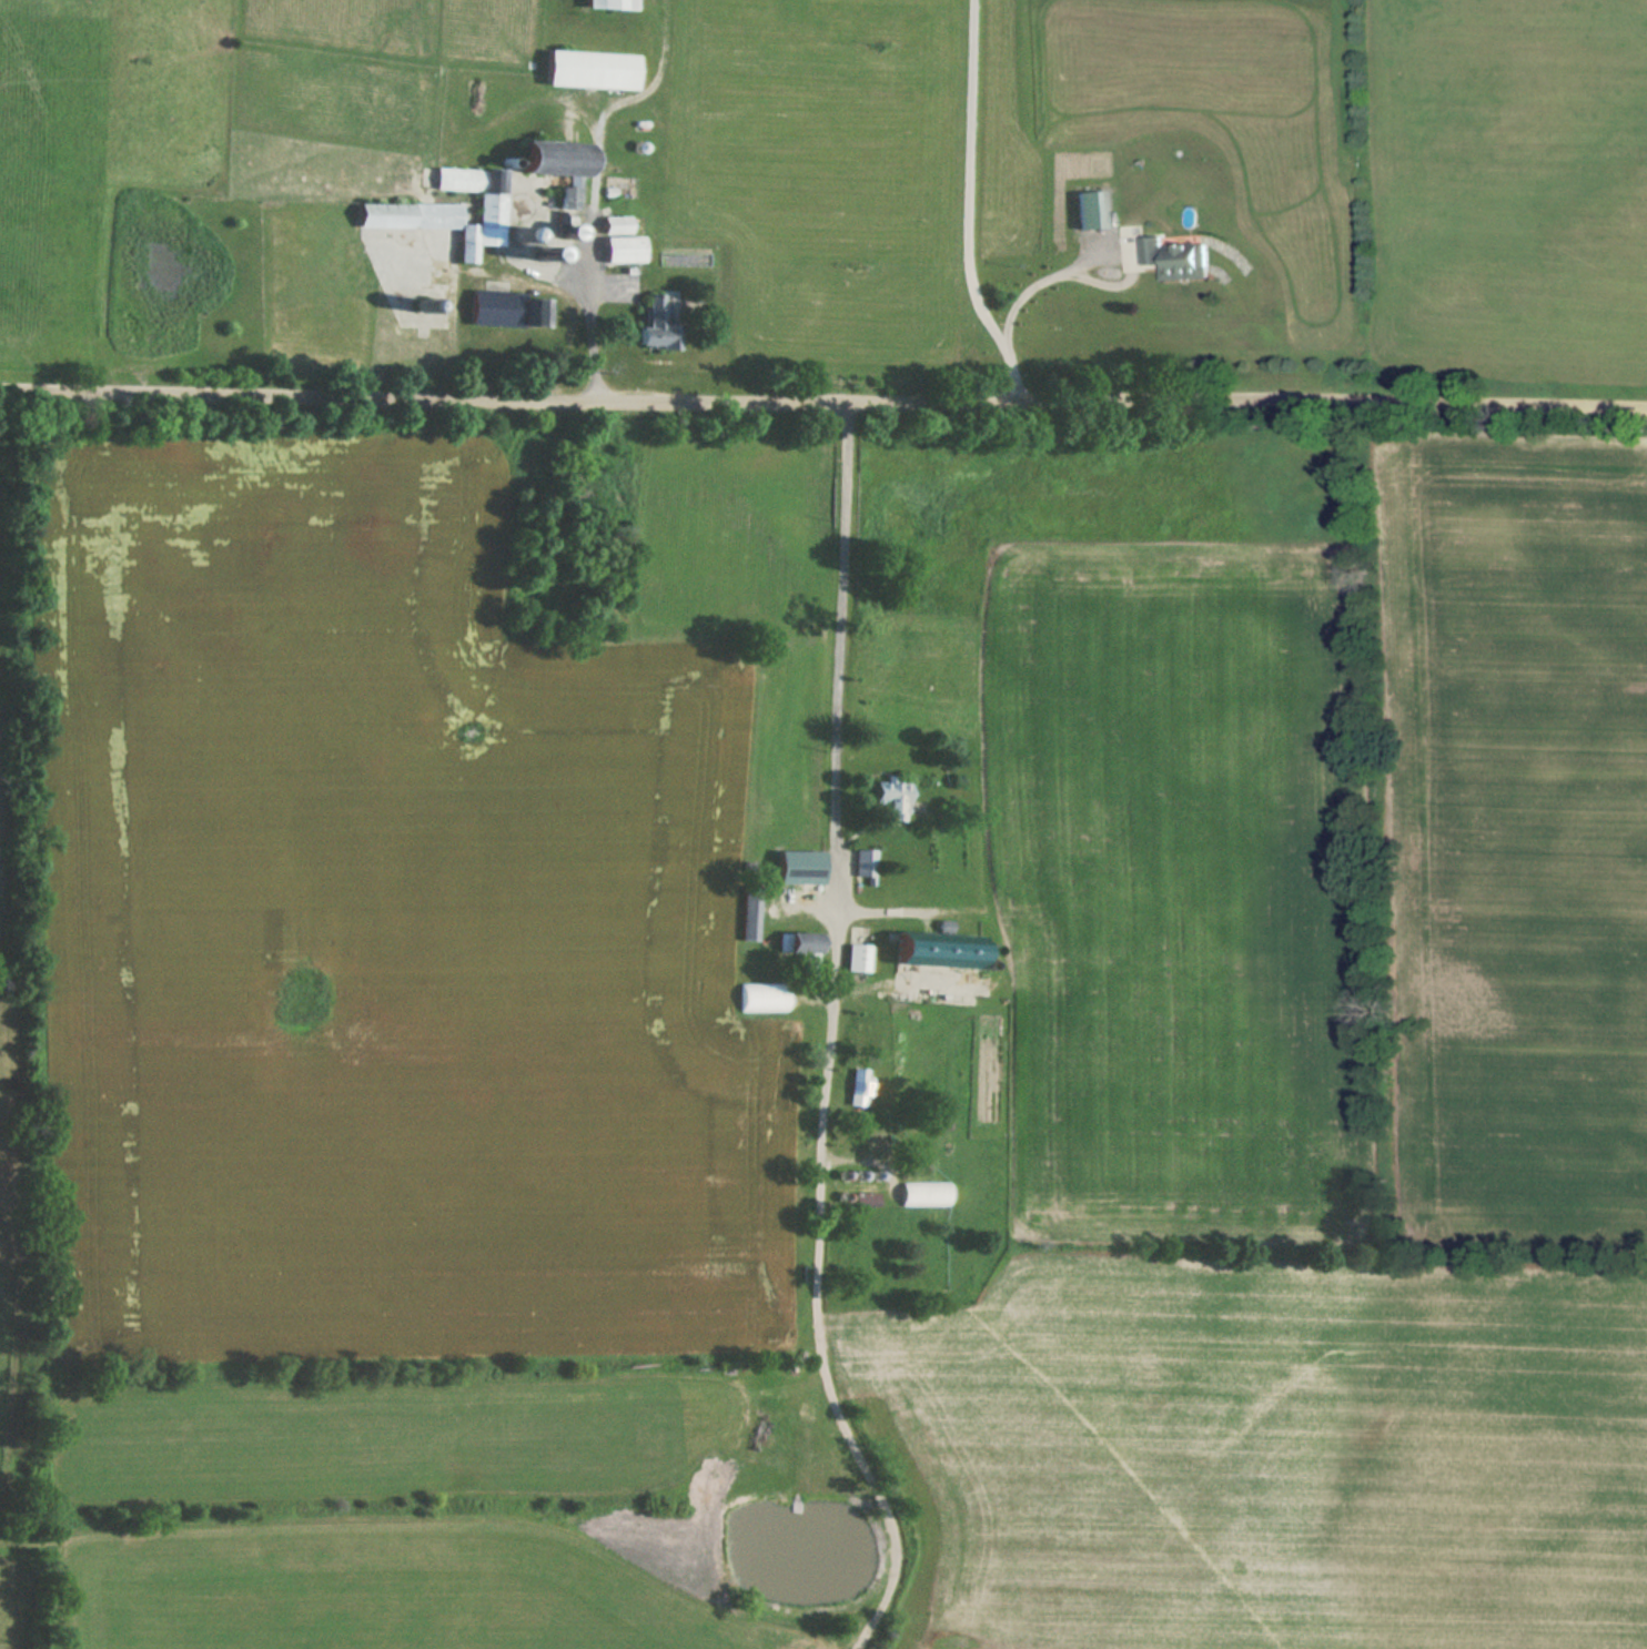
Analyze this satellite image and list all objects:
building: (612, 3)
building: (593, 69)
building: (475, 98)
building: (560, 156)
building: (570, 198)
road: (978, 204)
building: (1091, 209)
building: (449, 212)
building: (618, 223)
building: (572, 226)
building: (553, 231)
building: (625, 247)
building: (1176, 257)
road: (1045, 294)
building: (507, 307)
road: (594, 313)
building: (659, 320)
road: (823, 399)
building: (891, 800)
building: (866, 862)
building: (802, 866)
building: (752, 912)
building: (942, 948)
building: (805, 949)
building: (859, 949)
building: (765, 997)
road: (830, 1038)
building: (927, 1193)

